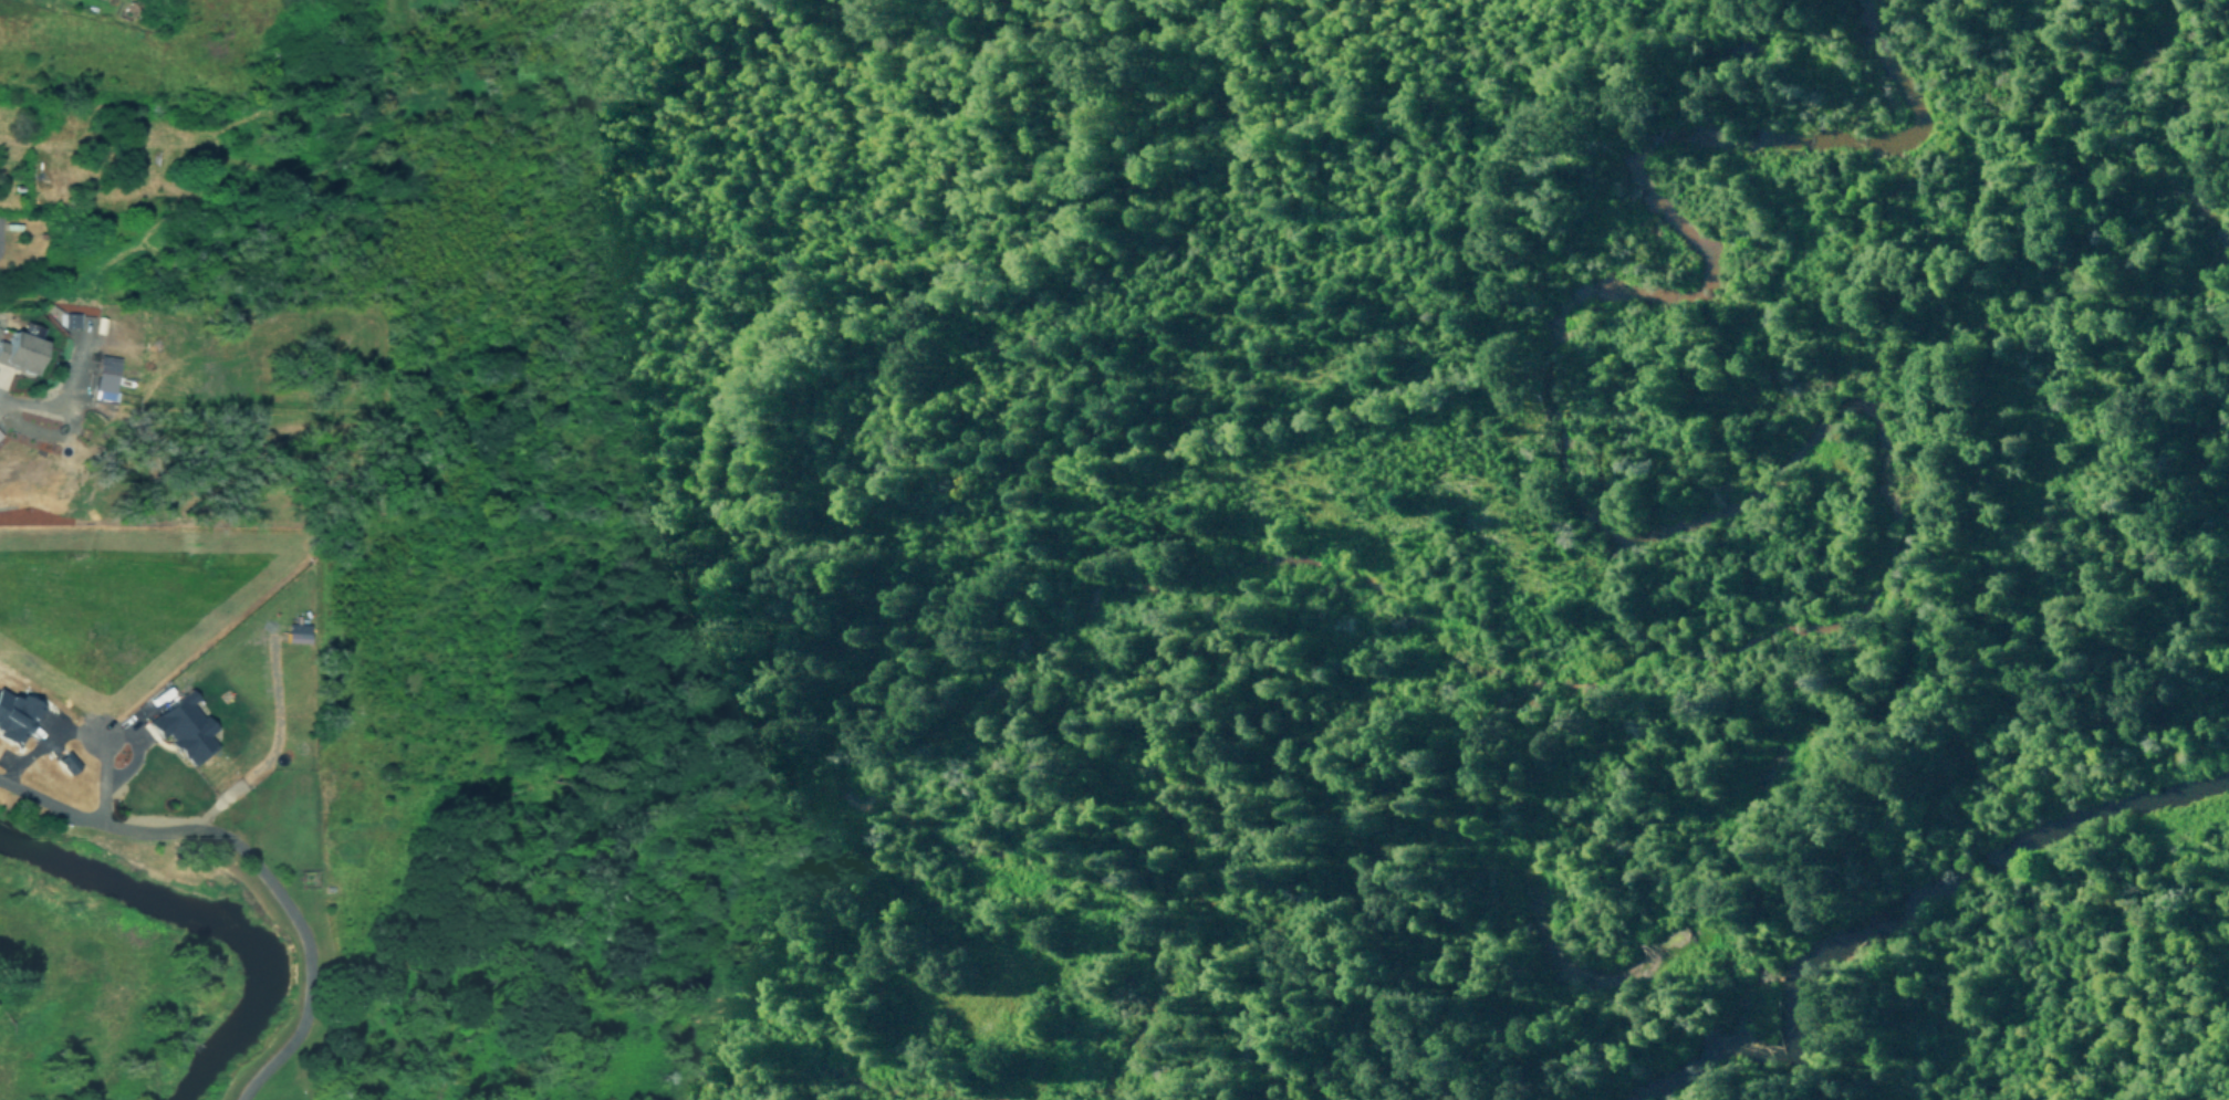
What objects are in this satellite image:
road: (1583, 19)
road: (619, 238)
building: (58, 315)
building: (13, 344)
building: (4, 373)
building: (91, 377)
crop: (83, 415)
road: (1313, 512)
road: (970, 525)
building: (296, 632)
building: (13, 716)
building: (181, 727)
building: (65, 762)
road: (492, 790)
road: (1320, 805)
road: (251, 869)
river: (1895, 903)
river: (210, 920)
road: (1947, 933)

